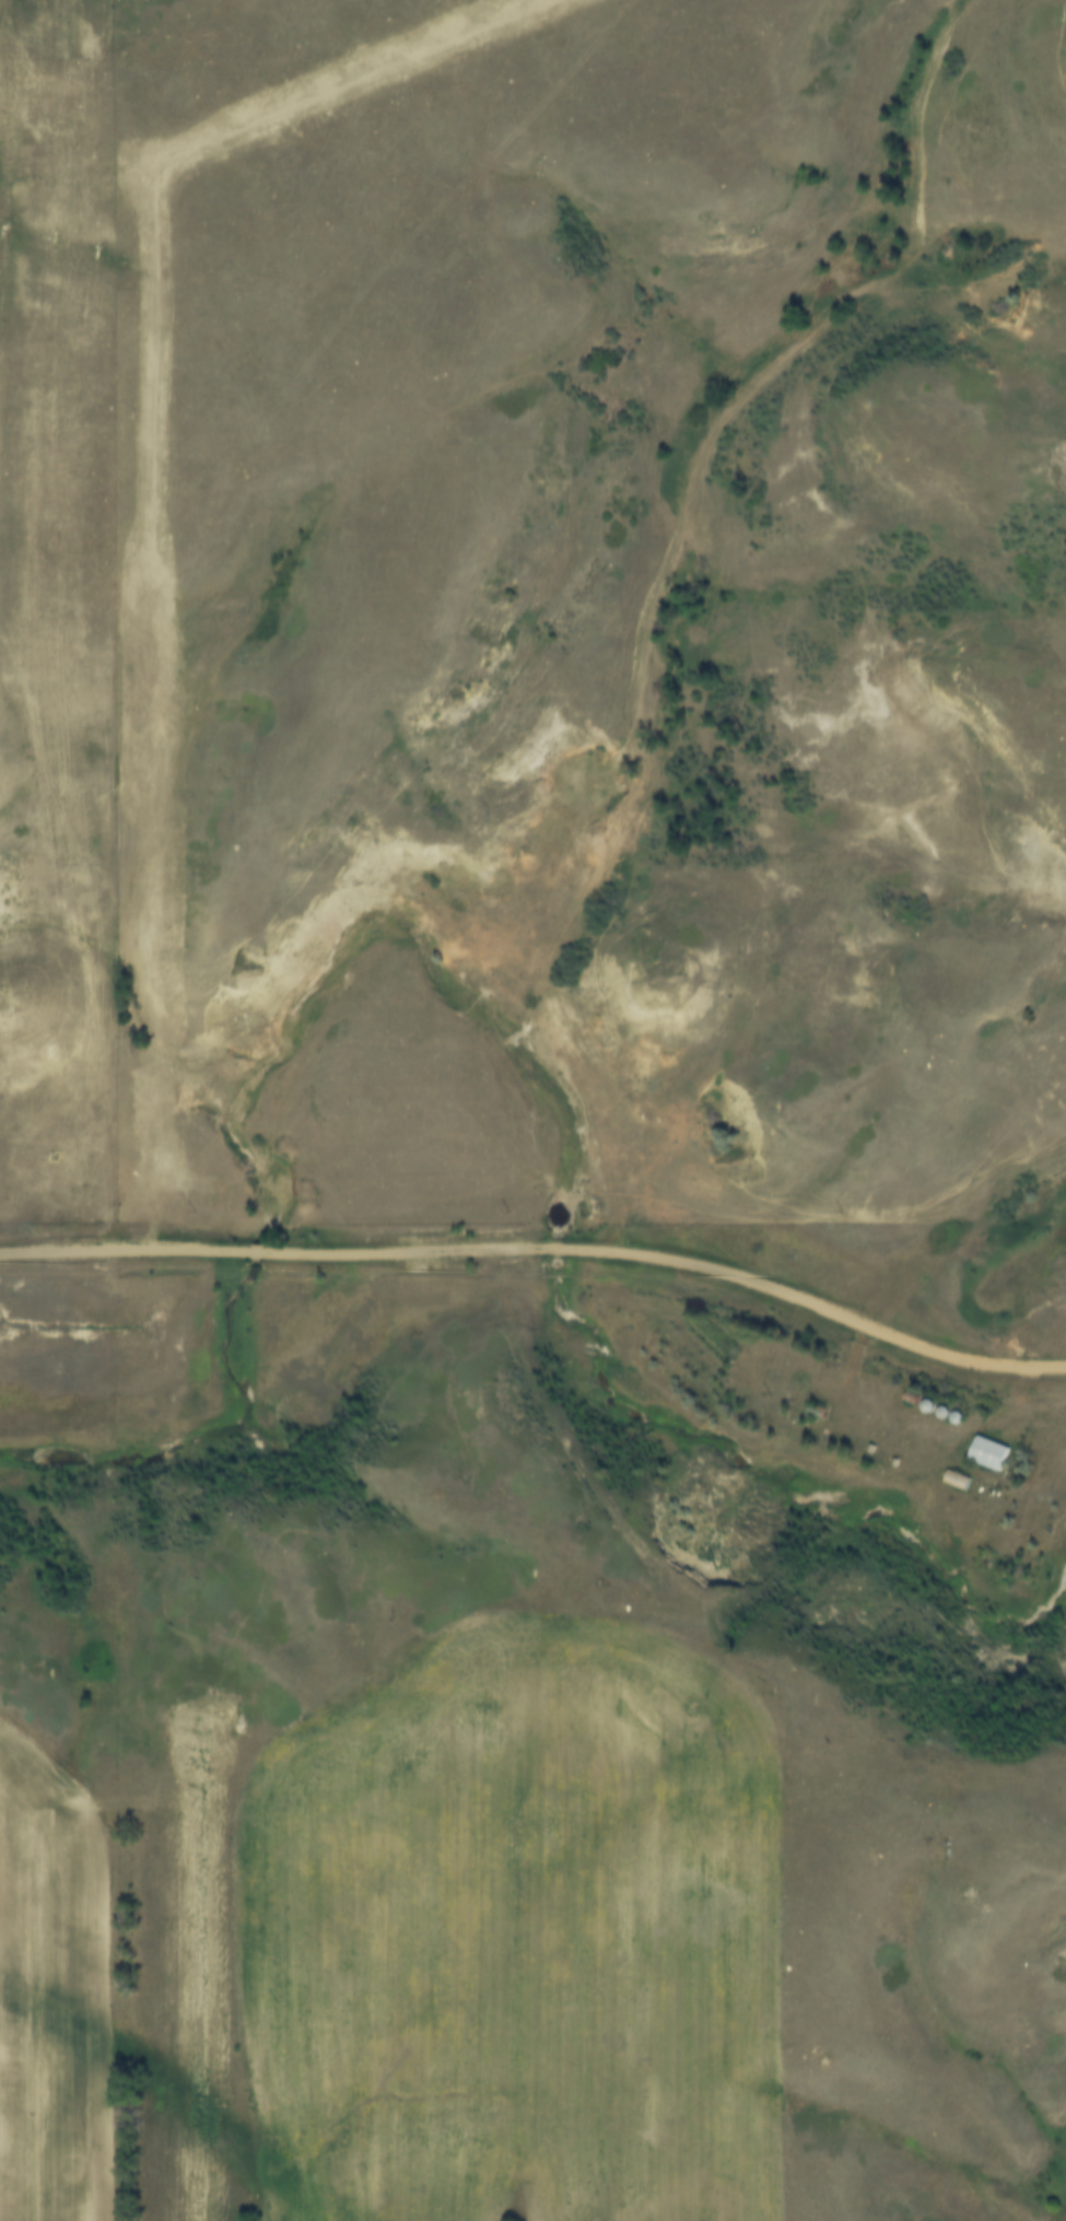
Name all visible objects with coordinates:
road: (542, 1253)
road: (913, 1437)
building: (993, 1453)
building: (959, 1480)

